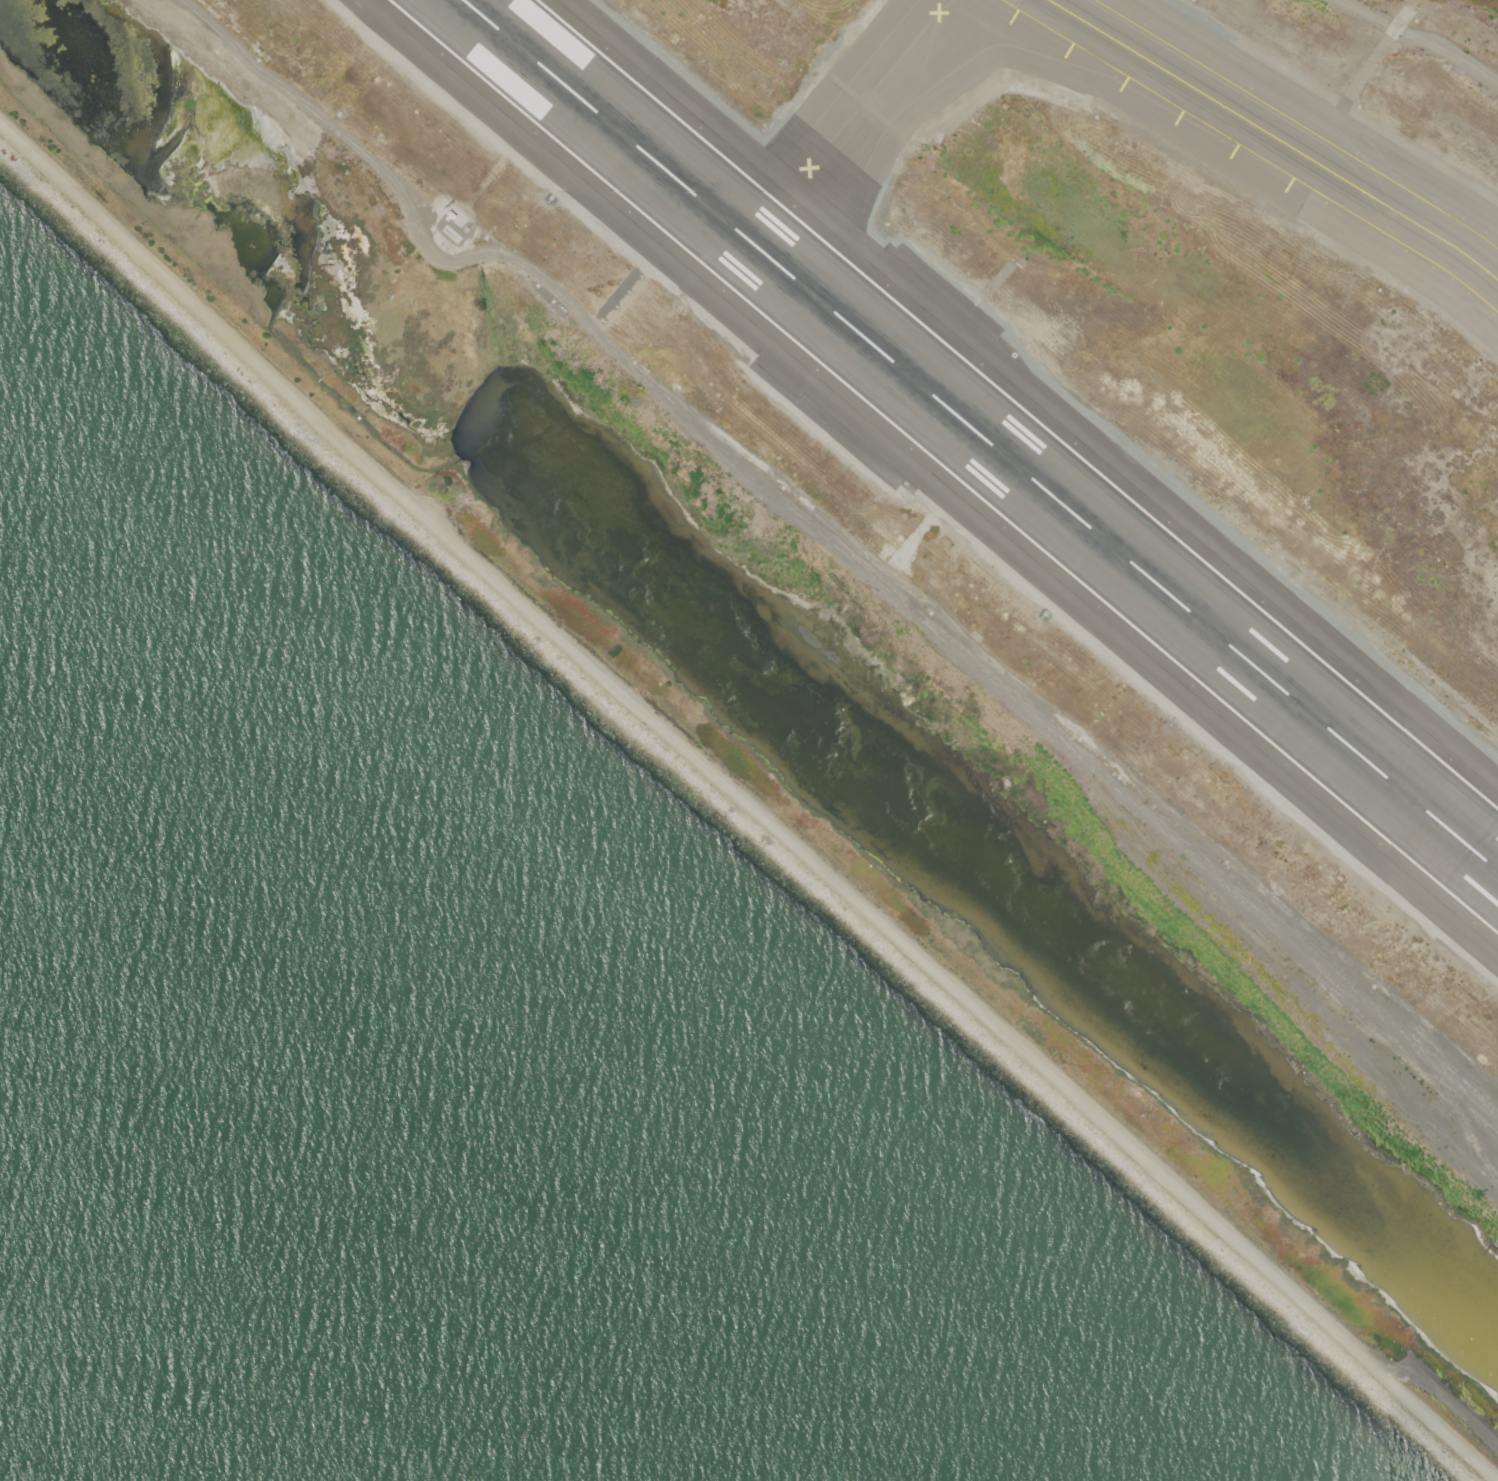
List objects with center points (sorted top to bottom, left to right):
airport taxiway: (1275, 137)
airport runway: (981, 435)
airport: (950, 509)

